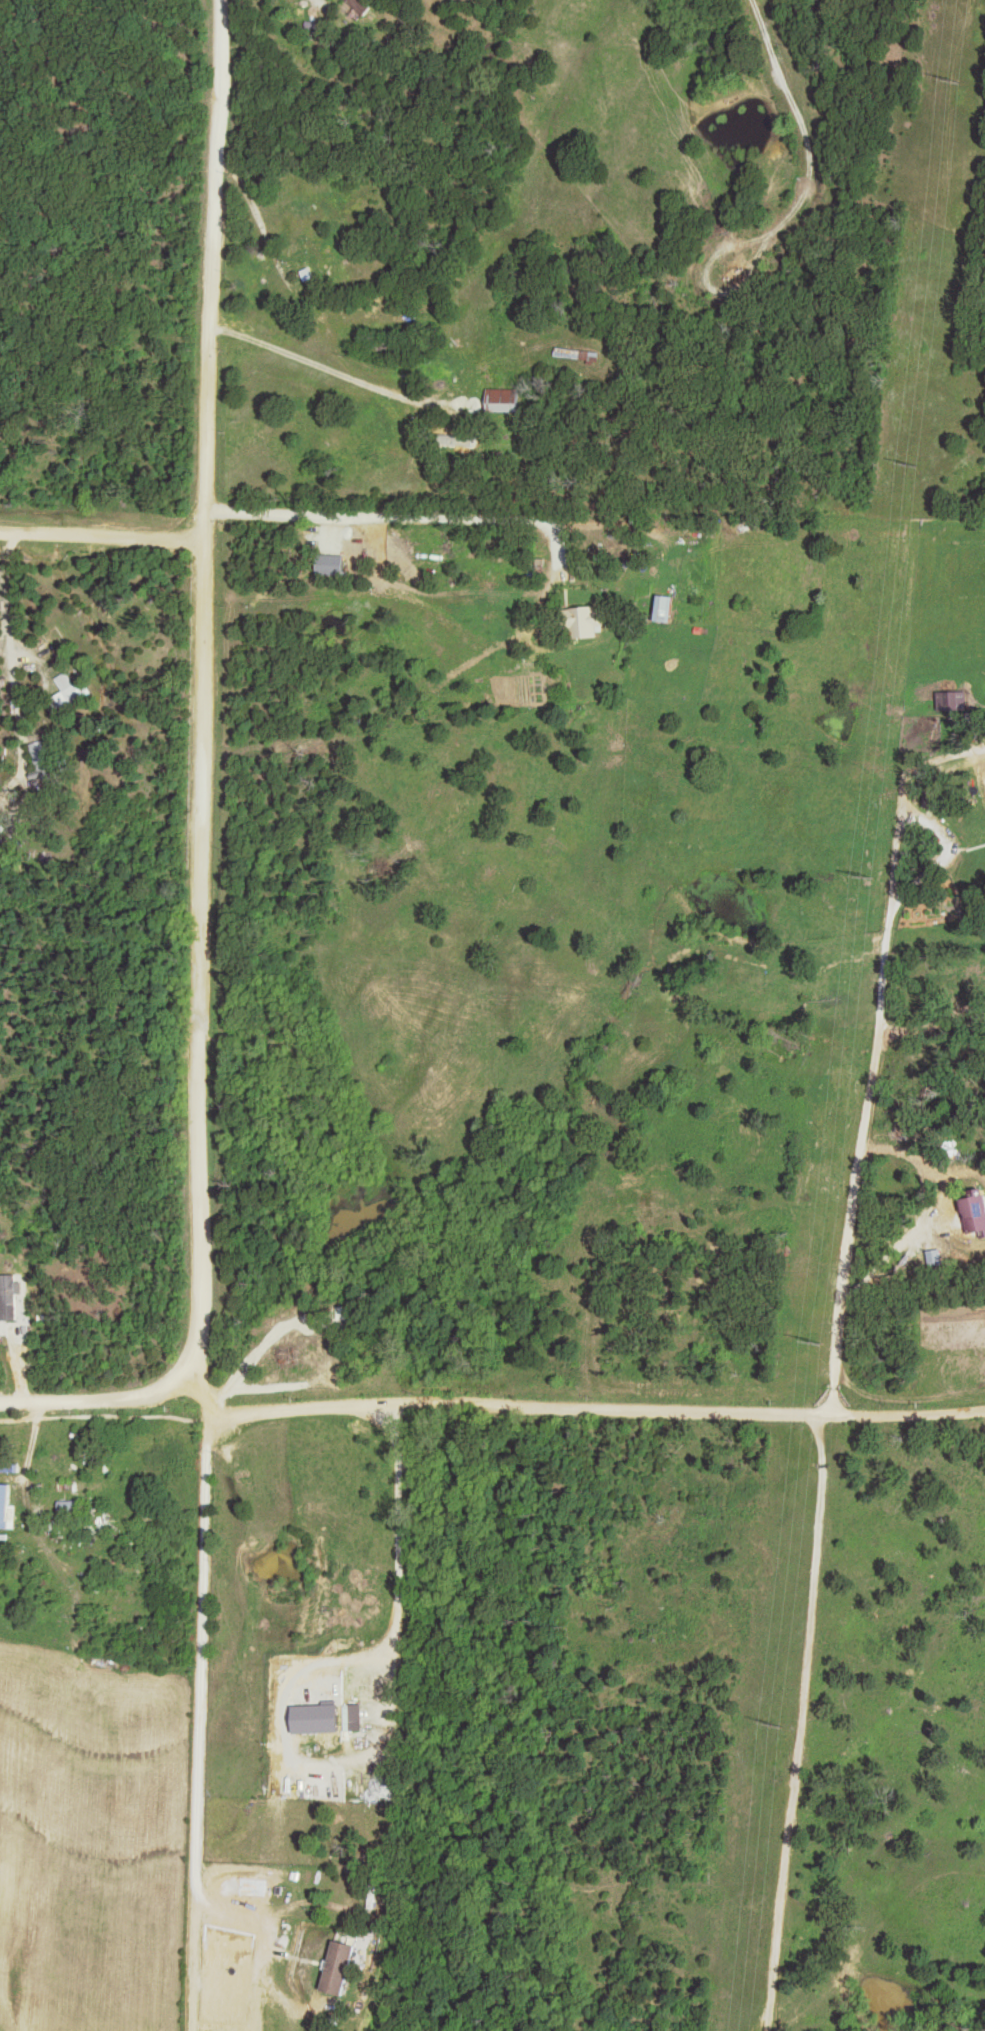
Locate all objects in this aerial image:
building: (303, 8)
power tower: (949, 78)
building: (319, 253)
road: (311, 361)
building: (503, 400)
building: (459, 437)
power tower: (907, 463)
road: (401, 521)
road: (104, 537)
building: (662, 607)
building: (581, 620)
building: (65, 687)
building: (39, 757)
power tower: (863, 876)
road: (203, 995)
road: (873, 1052)
road: (919, 1158)
building: (973, 1212)
building: (7, 1297)
power tower: (806, 1343)
road: (100, 1399)
road: (599, 1408)
building: (2, 1463)
building: (3, 1504)
power tower: (768, 1719)
road: (803, 1723)
building: (335, 1968)

